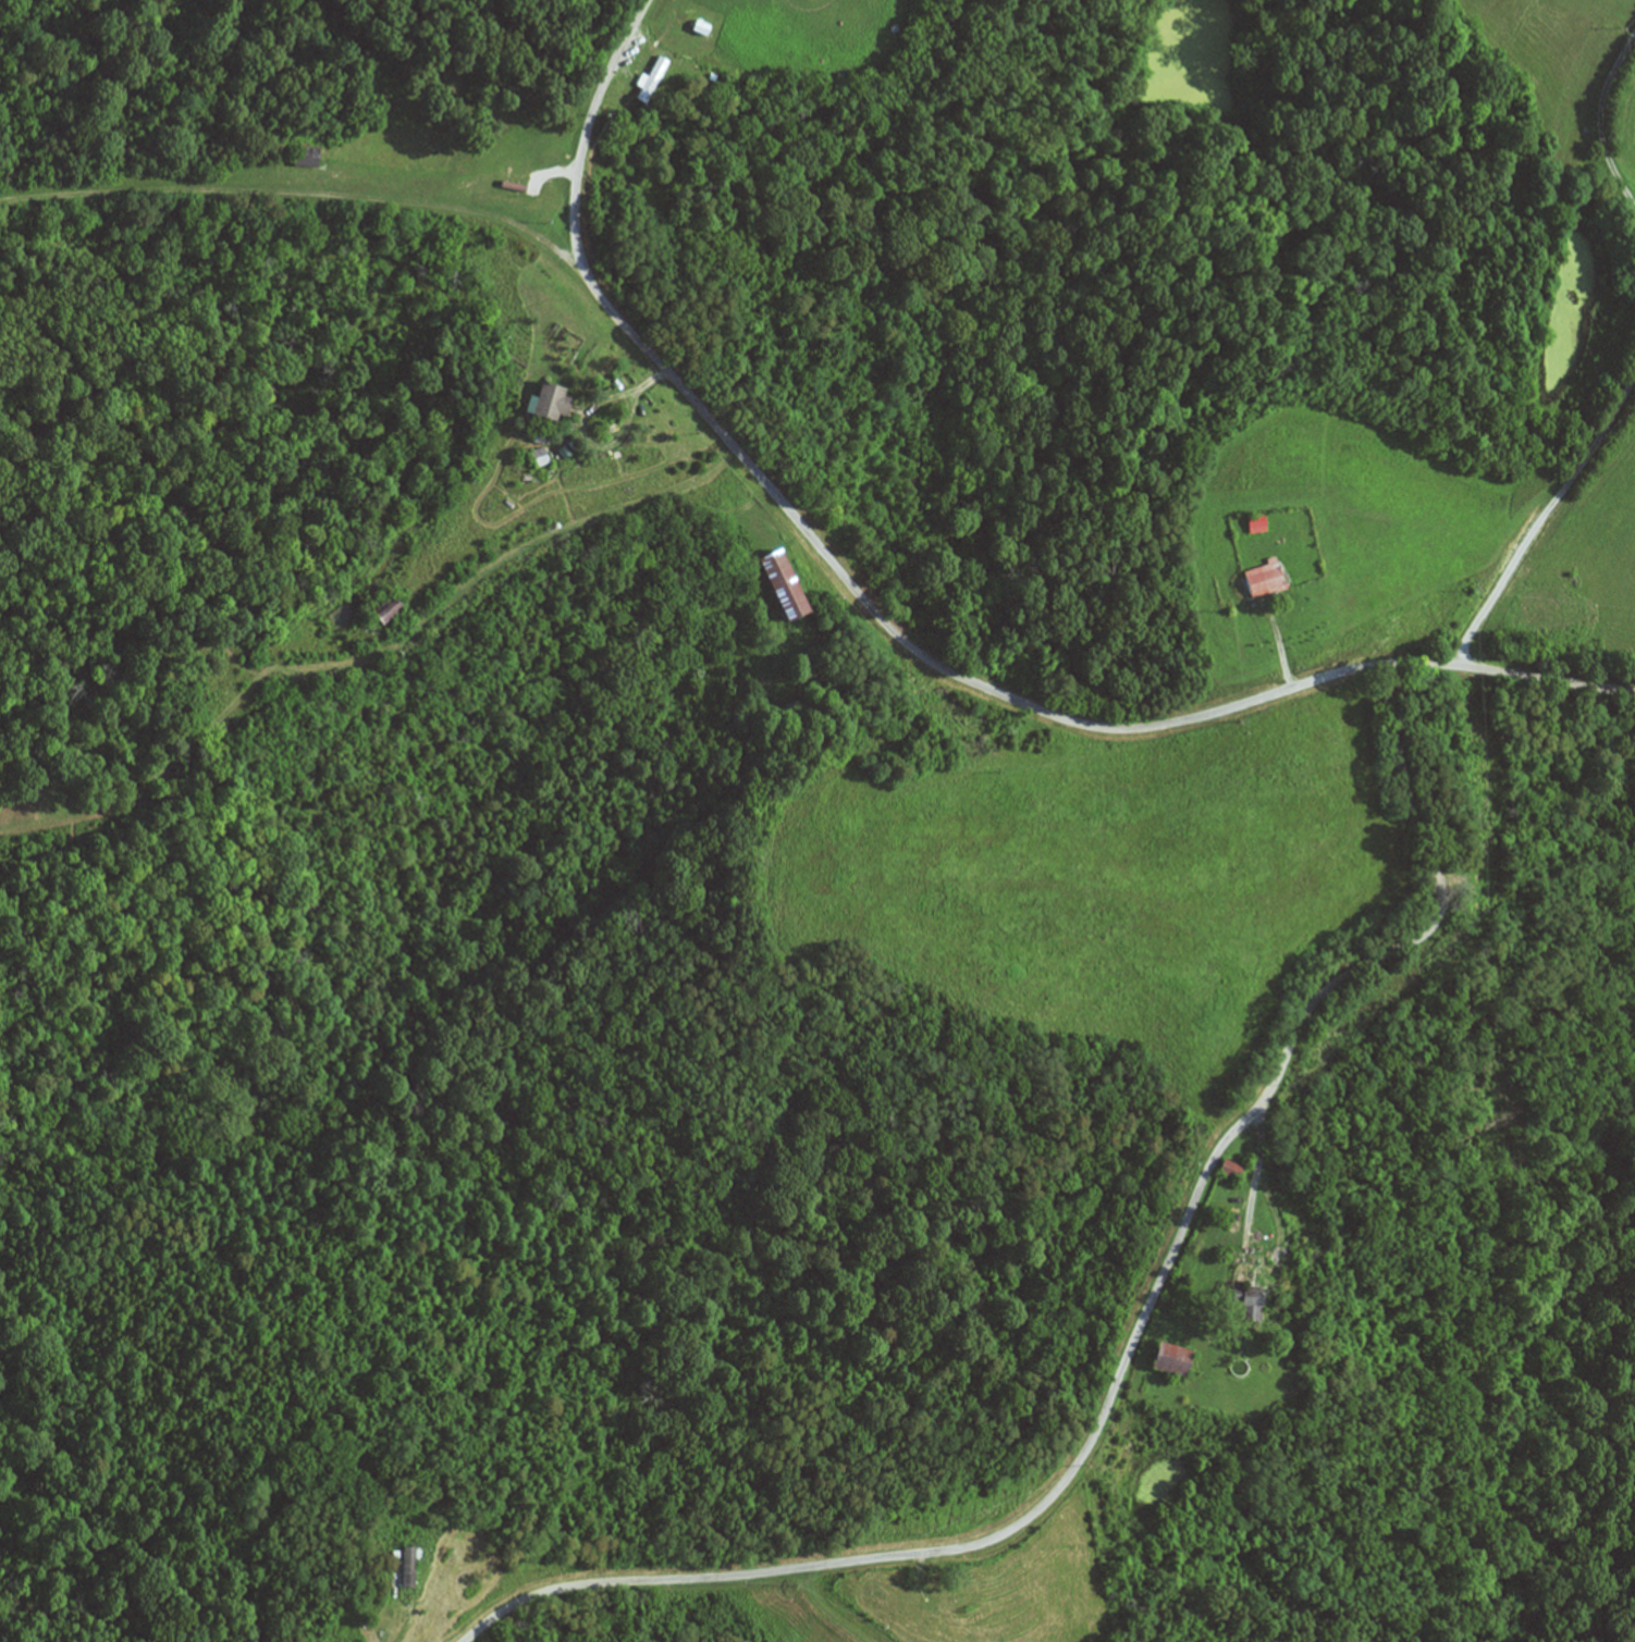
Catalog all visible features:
building: (305, 157)
road: (184, 190)
road: (488, 218)
building: (553, 404)
building: (540, 457)
road: (647, 504)
building: (1266, 581)
building: (784, 587)
building: (388, 610)
road: (896, 637)
road: (1308, 1011)
building: (1231, 1168)
road: (824, 1563)
building: (404, 1567)
building: (949, 1603)

